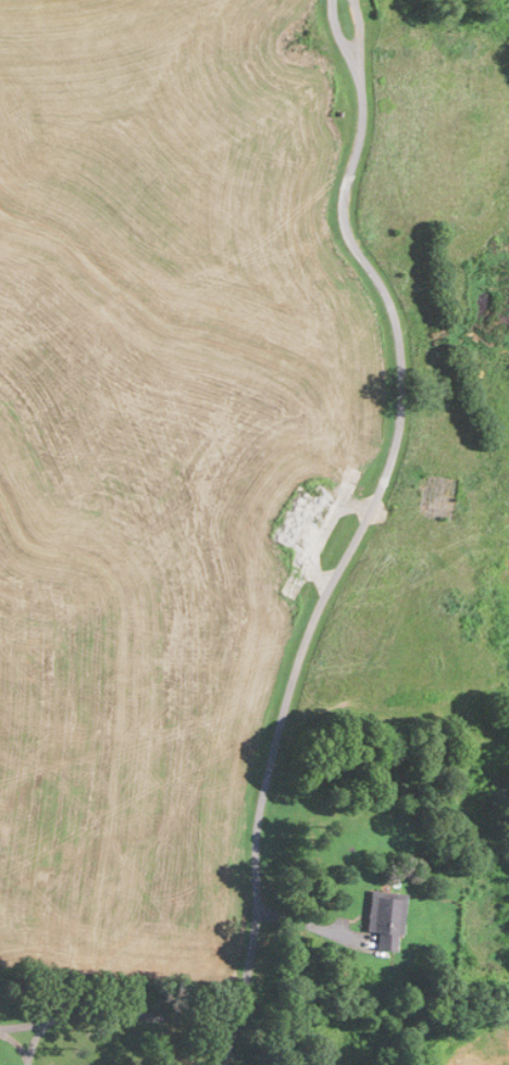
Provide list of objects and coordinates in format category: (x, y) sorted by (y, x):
road: (367, 508)
building: (387, 920)
road: (298, 922)
road: (113, 1018)
road: (224, 1044)

